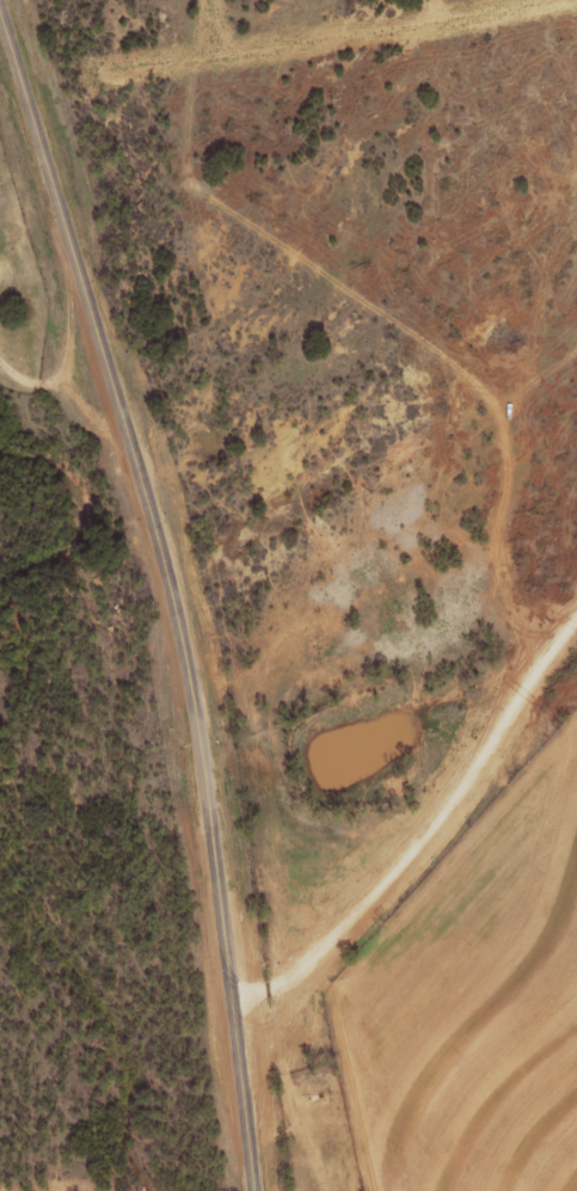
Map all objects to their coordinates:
road: (172, 596)
road: (422, 834)

